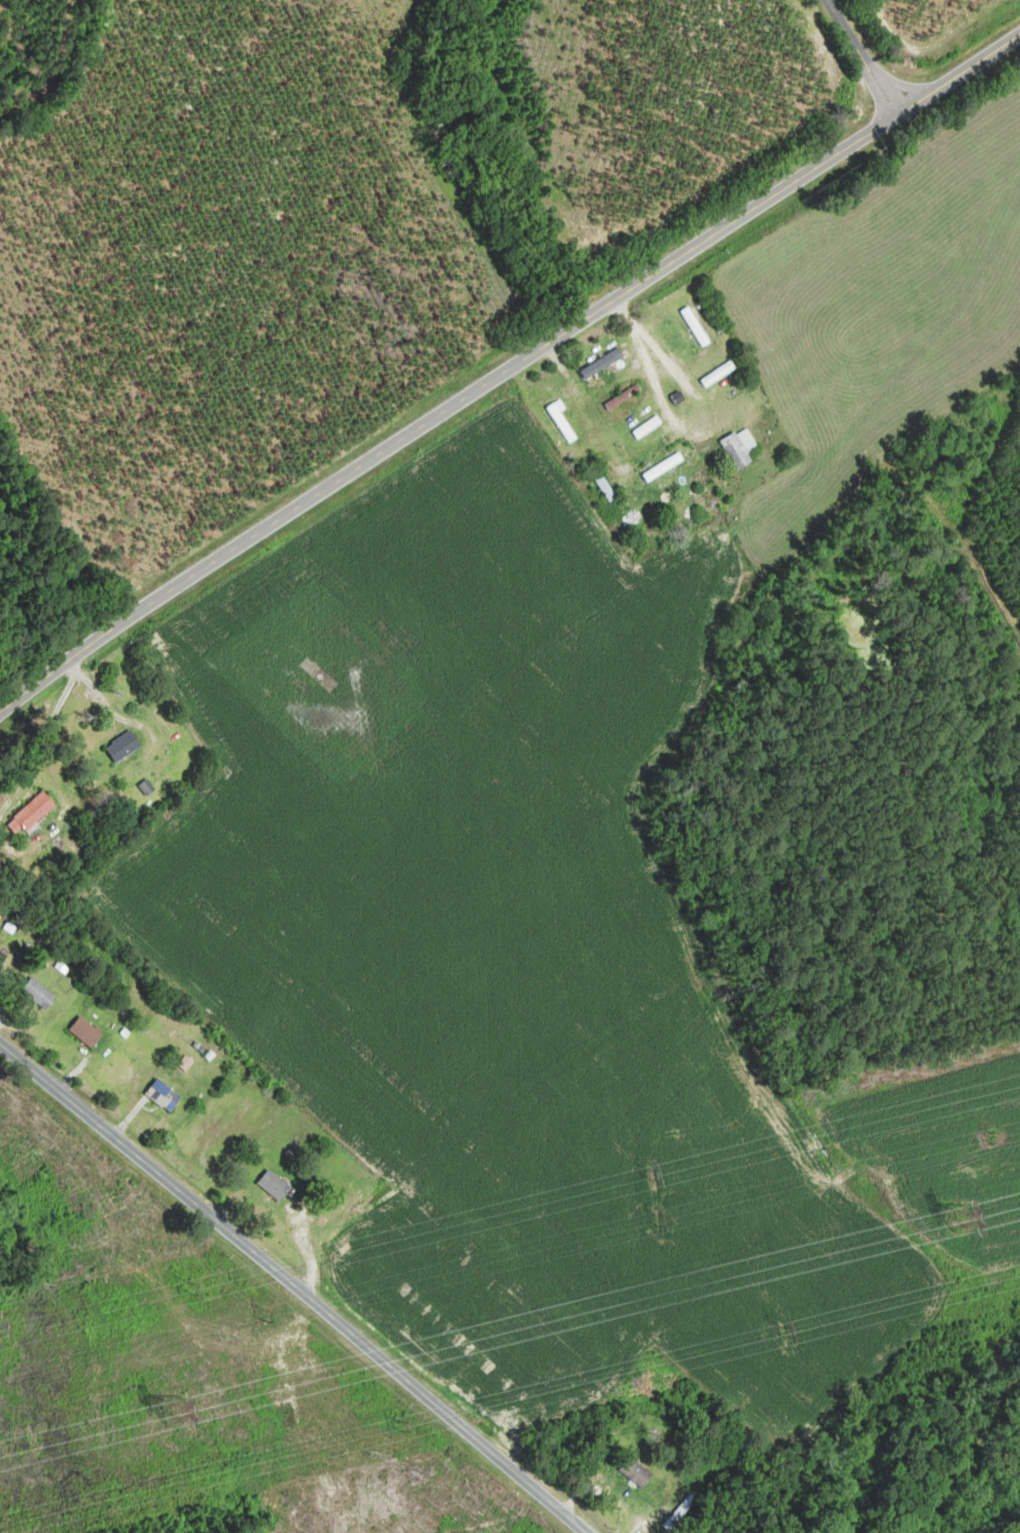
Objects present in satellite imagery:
road: (861, 56)
building: (696, 327)
building: (600, 365)
road: (507, 368)
building: (718, 375)
building: (623, 397)
building: (561, 423)
building: (647, 427)
road: (648, 441)
building: (740, 448)
building: (663, 467)
building: (601, 483)
building: (706, 484)
building: (123, 748)
building: (34, 812)
building: (38, 994)
building: (86, 1031)
building: (163, 1095)
power tower: (993, 1139)
power tower: (652, 1175)
building: (274, 1185)
power tower: (963, 1216)
power tower: (657, 1219)
road: (296, 1285)
power tower: (196, 1292)
power tower: (265, 1320)
power tower: (783, 1330)
power tower: (173, 1404)
power tower: (401, 1425)
building: (636, 1472)
power tower: (0, 1522)

